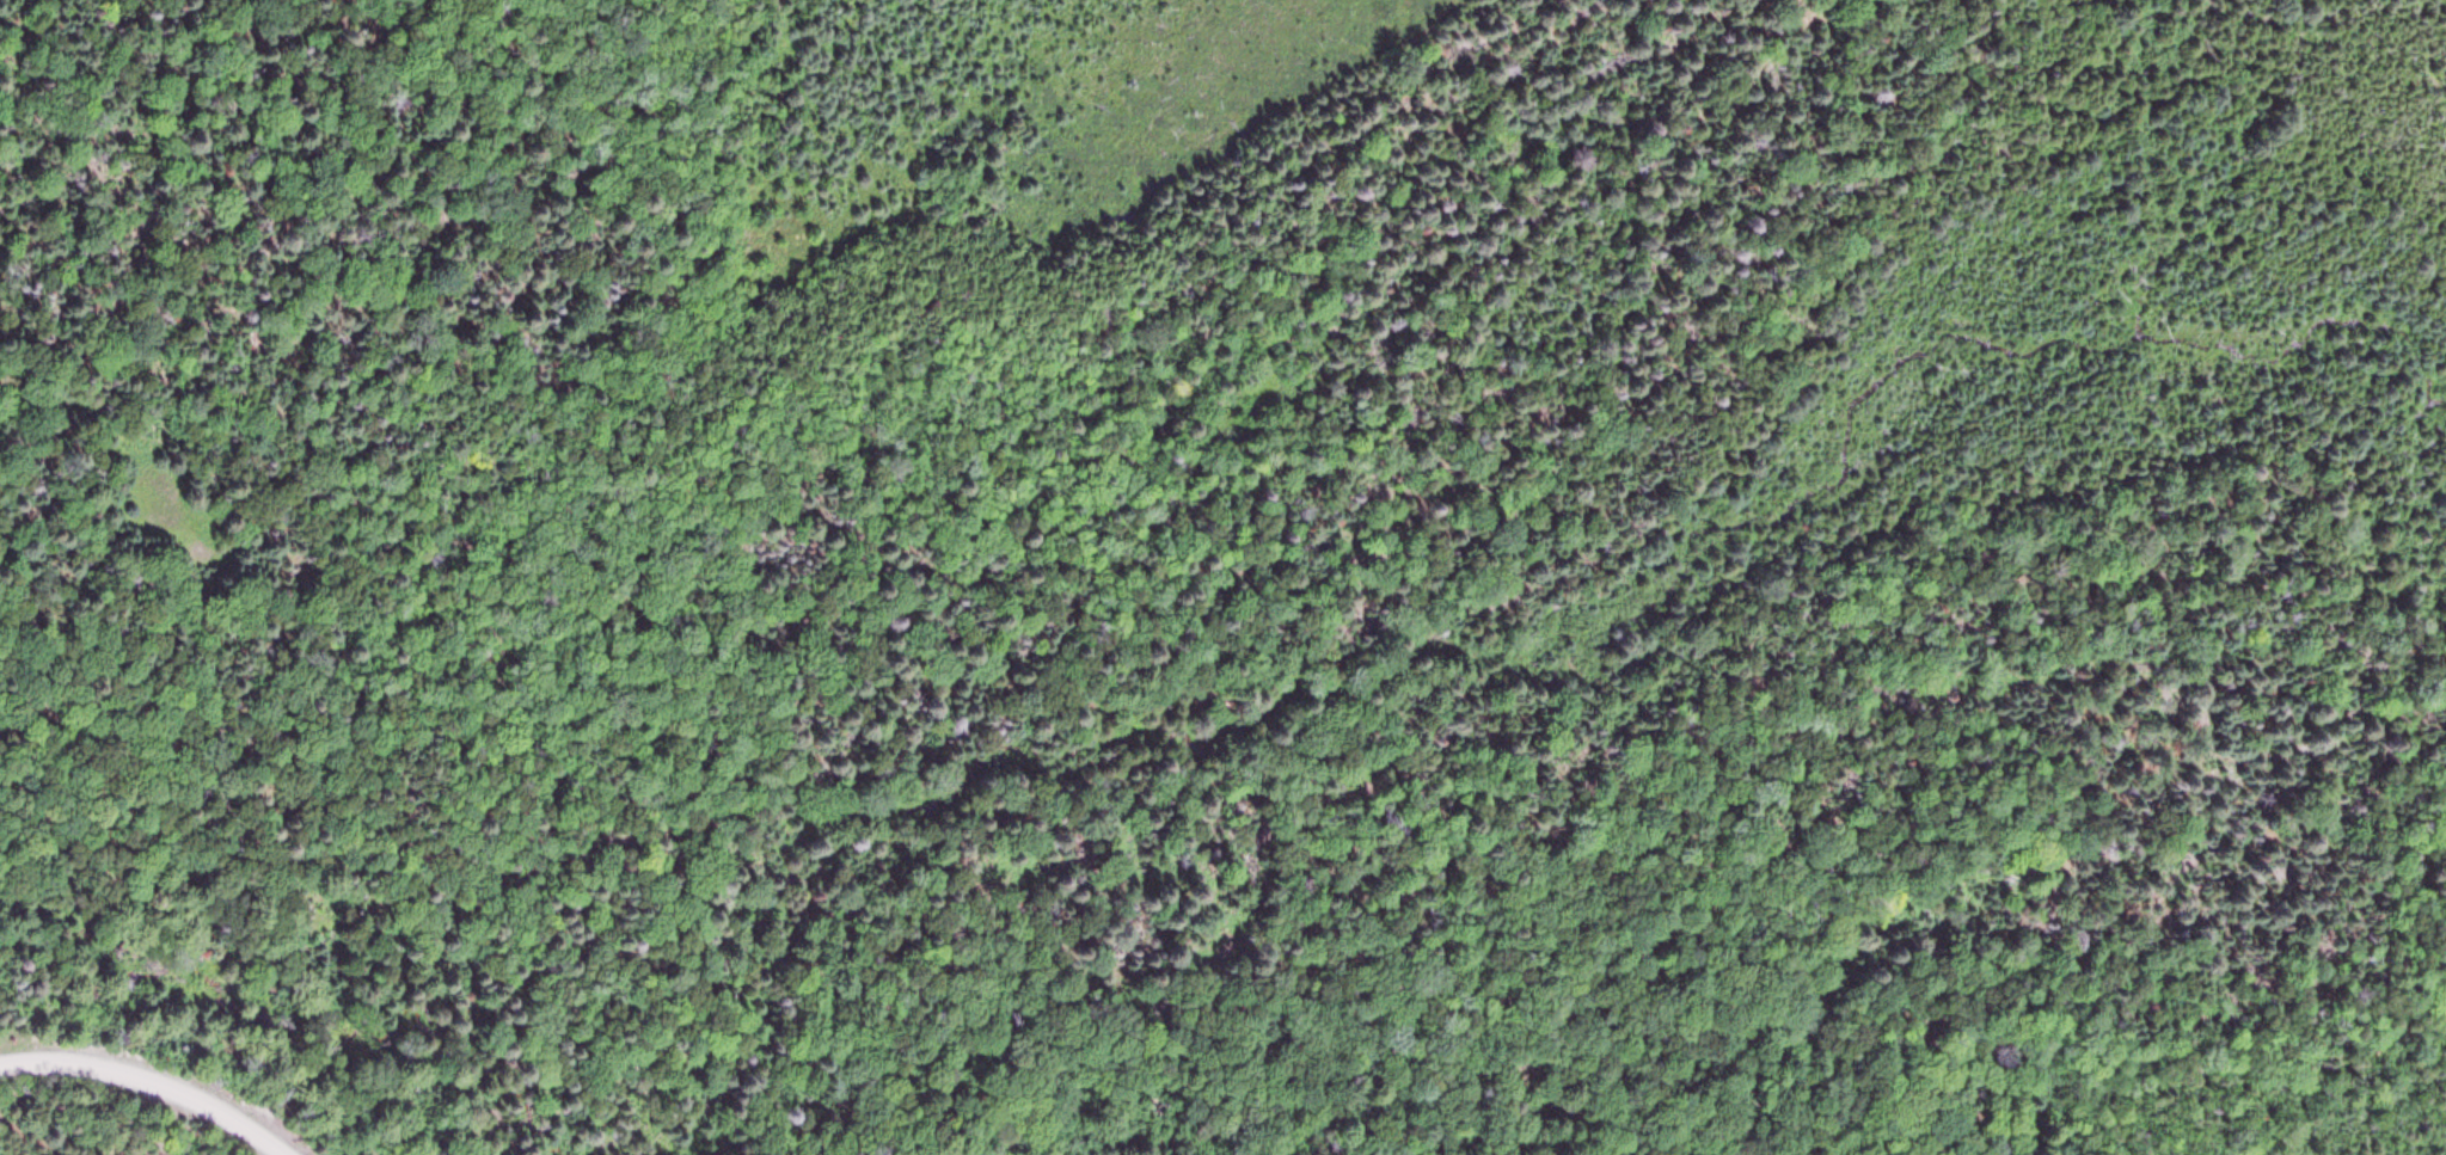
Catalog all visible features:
road: (149, 1077)

